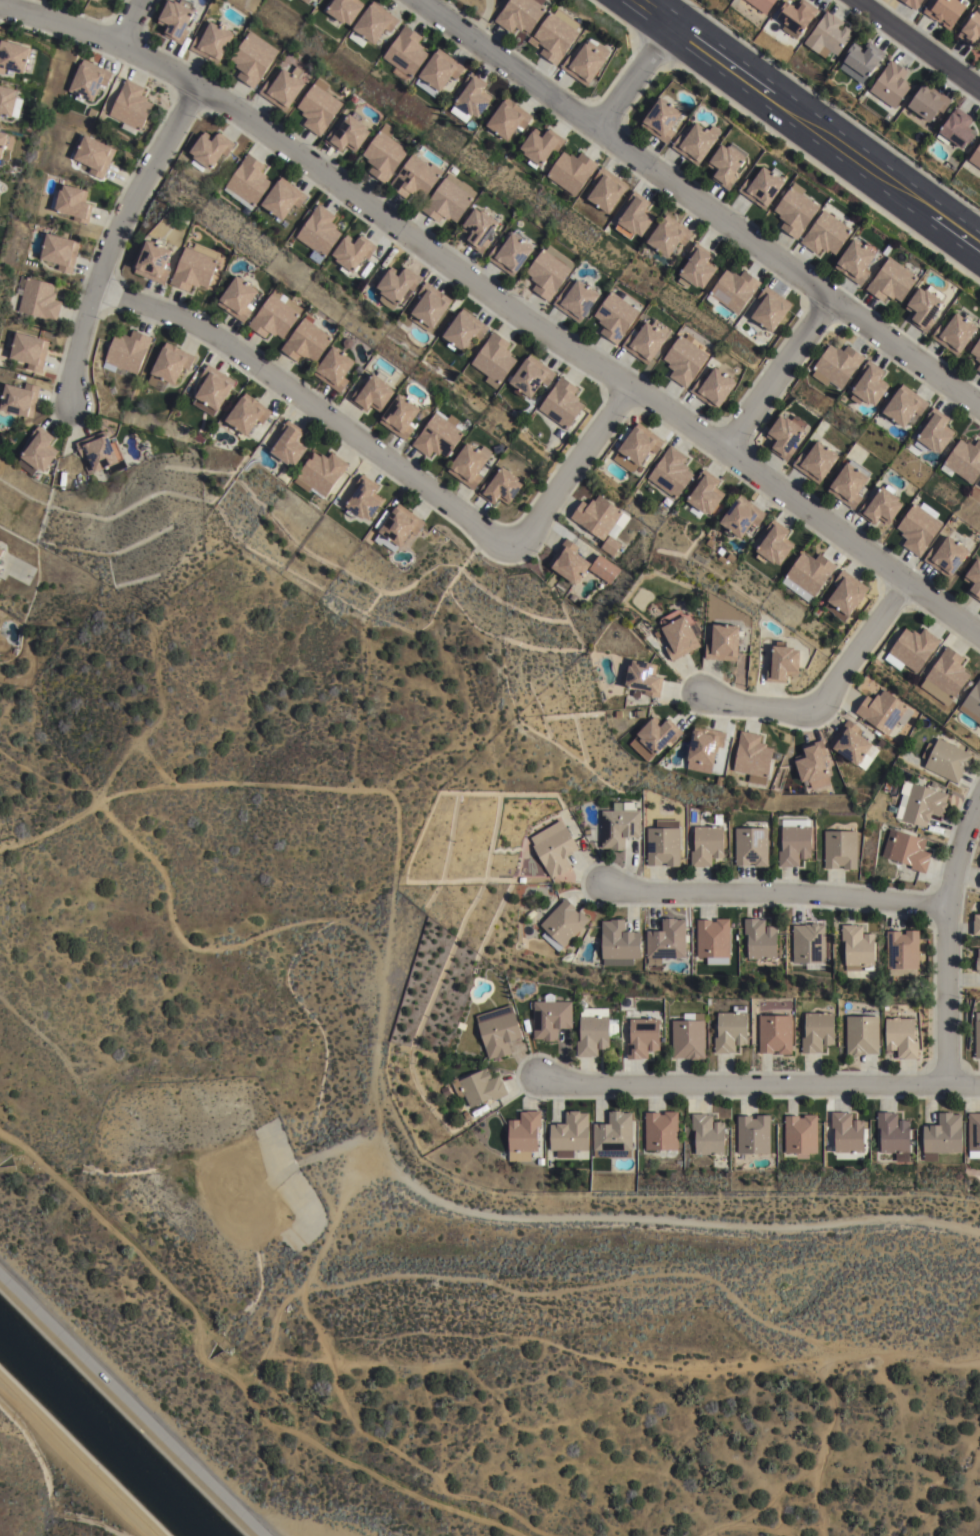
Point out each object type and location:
building: (94, 1)
building: (305, 1)
building: (912, 4)
building: (762, 5)
building: (343, 12)
building: (944, 13)
building: (521, 15)
building: (797, 18)
building: (176, 20)
road: (131, 22)
building: (372, 26)
building: (971, 32)
building: (556, 36)
building: (828, 36)
building: (213, 43)
road: (918, 44)
building: (13, 51)
building: (406, 55)
building: (253, 59)
building: (862, 59)
building: (586, 63)
building: (438, 74)
building: (89, 78)
road: (636, 78)
building: (890, 85)
building: (282, 91)
building: (9, 98)
building: (472, 100)
building: (131, 105)
building: (928, 105)
building: (319, 108)
building: (506, 115)
building: (661, 122)
road: (809, 122)
building: (956, 132)
building: (2, 137)
building: (348, 137)
building: (539, 143)
building: (697, 145)
building: (209, 147)
building: (95, 151)
building: (384, 155)
building: (973, 163)
building: (727, 166)
building: (571, 169)
building: (415, 179)
building: (247, 180)
building: (1, 186)
building: (605, 187)
building: (763, 189)
building: (282, 195)
building: (72, 200)
building: (449, 201)
road: (699, 204)
building: (796, 212)
building: (634, 213)
building: (319, 231)
building: (480, 232)
building: (667, 233)
road: (113, 237)
building: (827, 237)
building: (60, 248)
building: (352, 250)
building: (512, 254)
building: (152, 259)
building: (857, 263)
building: (194, 265)
building: (696, 265)
building: (548, 269)
building: (891, 279)
building: (398, 281)
building: (732, 290)
building: (236, 296)
building: (38, 297)
road: (503, 297)
building: (576, 298)
building: (924, 304)
building: (429, 305)
building: (771, 306)
building: (275, 314)
building: (615, 315)
building: (397, 322)
building: (464, 328)
building: (954, 331)
building: (646, 338)
building: (306, 339)
building: (29, 348)
building: (976, 348)
building: (127, 352)
building: (494, 358)
building: (685, 358)
building: (170, 363)
building: (836, 363)
building: (978, 366)
building: (334, 367)
building: (358, 369)
building: (531, 375)
road: (775, 375)
building: (213, 385)
building: (869, 385)
building: (714, 386)
building: (373, 392)
building: (19, 397)
road: (308, 401)
building: (562, 402)
building: (903, 403)
building: (246, 412)
building: (401, 414)
building: (933, 431)
building: (439, 434)
building: (783, 435)
building: (289, 442)
building: (636, 446)
building: (499, 448)
building: (99, 449)
building: (37, 451)
building: (963, 459)
building: (814, 460)
building: (469, 463)
road: (570, 465)
building: (87, 468)
building: (320, 471)
building: (671, 471)
building: (848, 481)
building: (501, 485)
building: (704, 493)
building: (363, 498)
building: (880, 504)
building: (600, 516)
building: (741, 516)
building: (397, 526)
building: (918, 526)
building: (588, 534)
building: (774, 542)
building: (609, 545)
building: (1, 549)
building: (946, 555)
building: (568, 561)
building: (603, 568)
building: (808, 574)
building: (973, 578)
building: (845, 595)
building: (658, 633)
building: (681, 635)
building: (723, 642)
building: (911, 649)
building: (783, 663)
building: (945, 675)
building: (643, 677)
road: (828, 697)
building: (973, 699)
building: (881, 710)
building: (979, 724)
building: (654, 737)
building: (880, 743)
building: (853, 745)
building: (703, 750)
building: (752, 757)
building: (946, 759)
building: (813, 764)
building: (919, 803)
building: (619, 825)
building: (795, 842)
building: (663, 843)
building: (707, 845)
building: (751, 846)
building: (554, 848)
building: (840, 849)
building: (906, 850)
building: (521, 880)
building: (979, 889)
road: (773, 893)
building: (562, 925)
building: (976, 926)
road: (946, 938)
building: (666, 940)
building: (618, 941)
building: (713, 941)
building: (761, 942)
building: (809, 946)
building: (858, 948)
building: (903, 953)
building: (978, 963)
building: (550, 1018)
building: (525, 1023)
building: (497, 1031)
building: (731, 1031)
building: (595, 1032)
building: (818, 1032)
building: (775, 1034)
building: (977, 1035)
building: (862, 1036)
building: (643, 1038)
building: (689, 1038)
building: (902, 1038)
road: (756, 1084)
building: (479, 1088)
building: (465, 1114)
building: (661, 1132)
building: (523, 1134)
building: (613, 1134)
building: (846, 1134)
building: (569, 1135)
building: (753, 1135)
building: (707, 1136)
building: (801, 1136)
building: (893, 1136)
building: (974, 1136)
building: (942, 1137)
building: (540, 1162)
road: (131, 1407)
road: (75, 1460)

